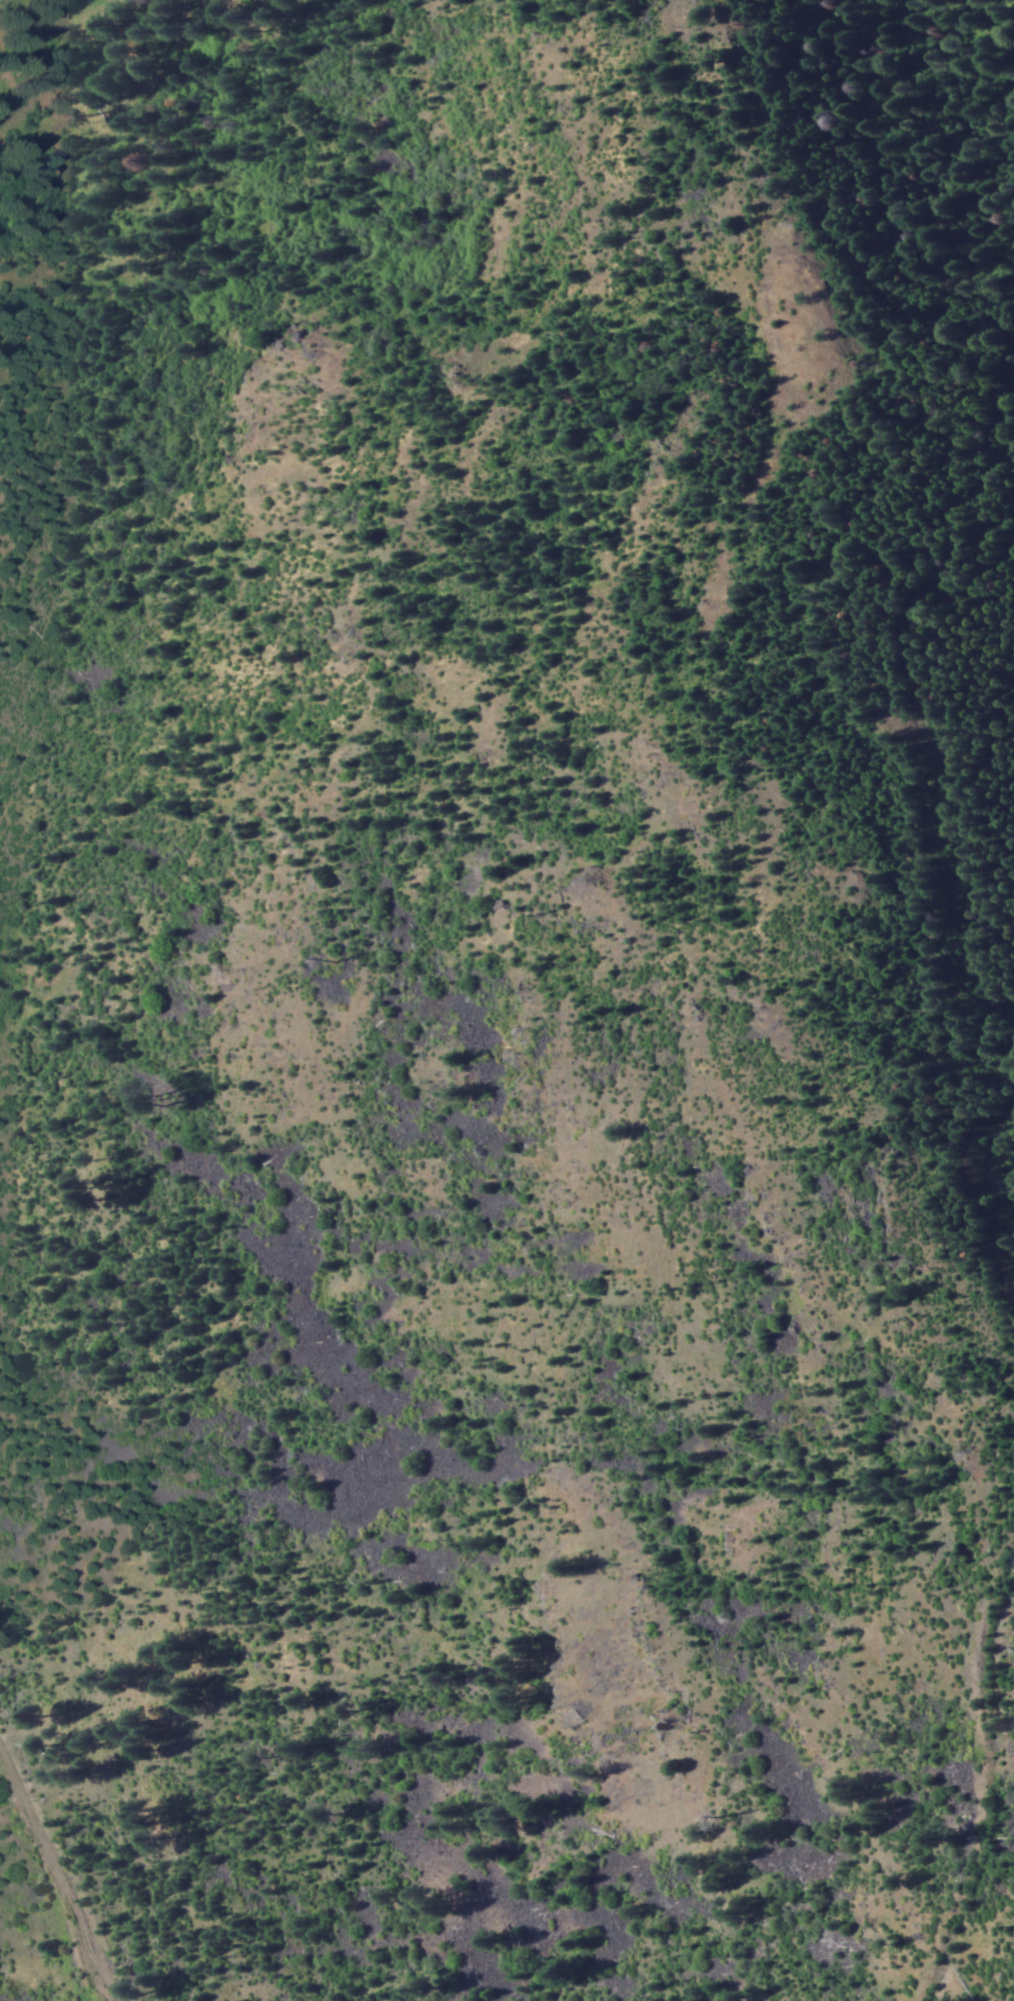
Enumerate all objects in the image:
road: (56, 1894)

